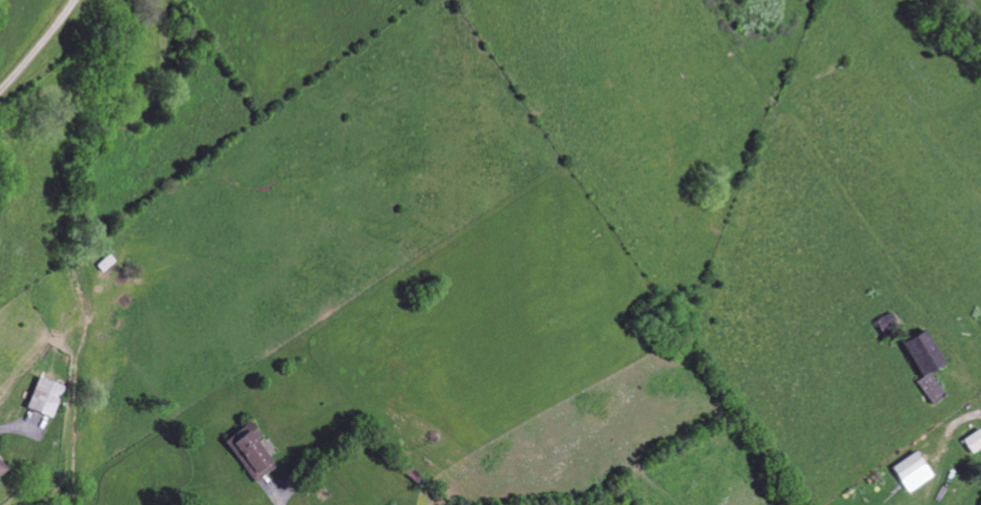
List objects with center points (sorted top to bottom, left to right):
road: (35, 43)
building: (106, 263)
building: (925, 362)
building: (44, 396)
road: (17, 425)
building: (973, 441)
building: (250, 451)
building: (908, 466)
building: (2, 469)
building: (980, 494)
building: (980, 504)

